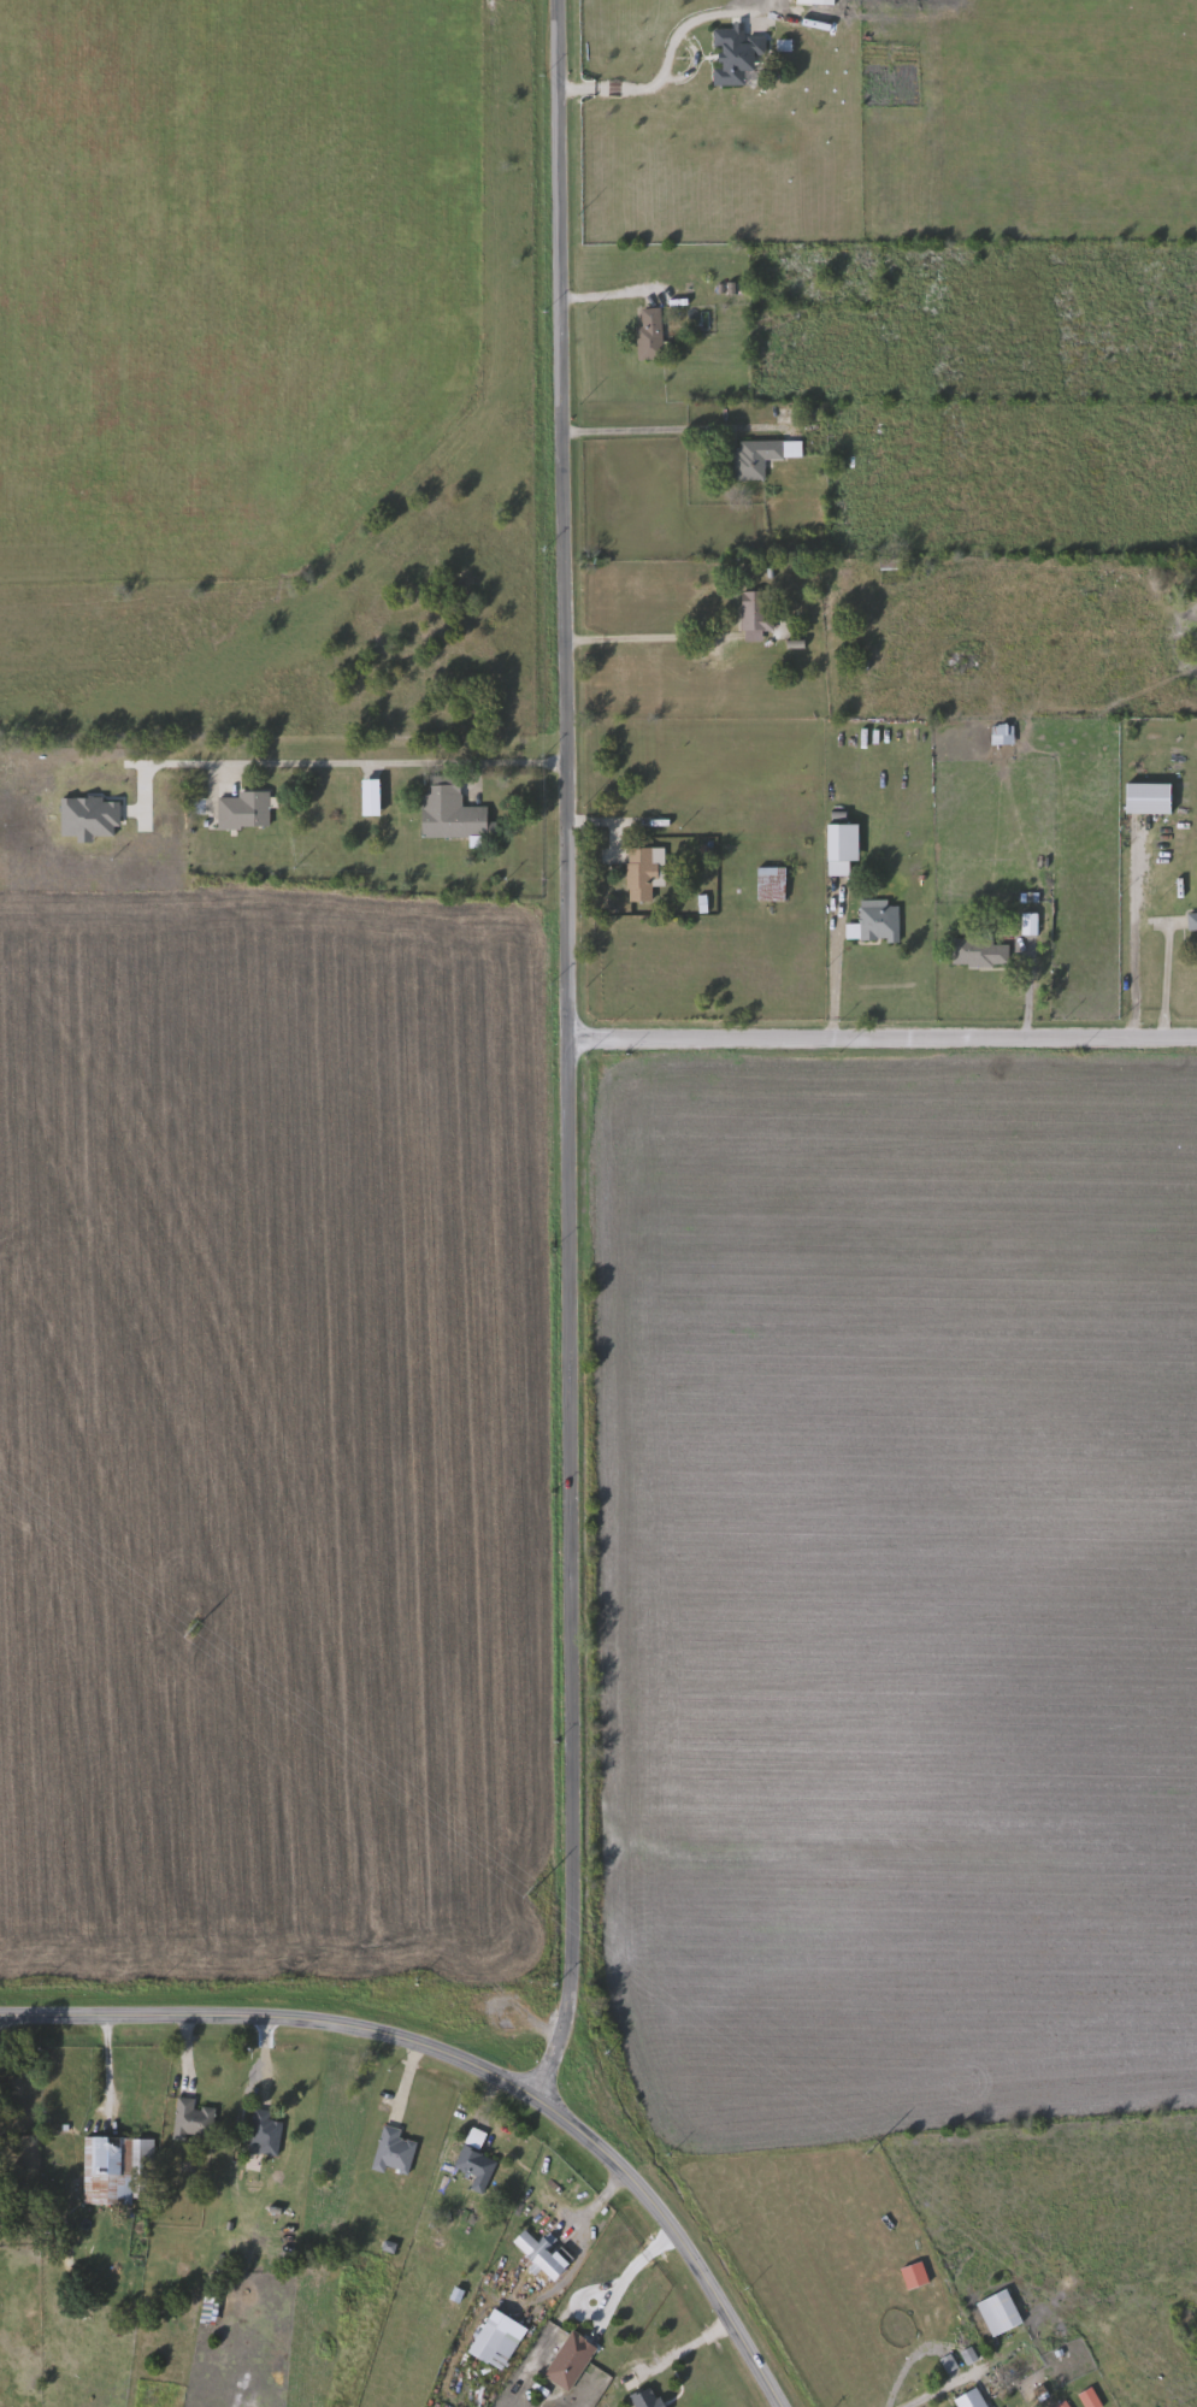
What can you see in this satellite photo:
building: (826, 1)
building: (737, 55)
road: (667, 59)
road: (618, 296)
building: (651, 334)
road: (680, 430)
building: (762, 458)
building: (757, 614)
road: (645, 639)
road: (883, 715)
road: (366, 765)
building: (1150, 798)
building: (252, 808)
building: (453, 813)
building: (837, 831)
building: (837, 851)
building: (642, 874)
building: (773, 884)
building: (1193, 919)
building: (879, 921)
building: (1031, 924)
road: (666, 930)
road: (1134, 932)
building: (980, 952)
road: (1171, 978)
road: (1027, 990)
road: (884, 1038)
road: (570, 1052)
power tower: (193, 1630)
power tower: (533, 1893)
road: (467, 2064)
road: (108, 2067)
building: (196, 2120)
building: (266, 2134)
power tower: (871, 2152)
building: (396, 2153)
building: (477, 2167)
building: (119, 2172)
road: (597, 2204)
building: (546, 2254)
road: (629, 2267)
building: (1001, 2313)
building: (495, 2347)
road: (939, 2387)
building: (650, 2397)
building: (972, 2400)

